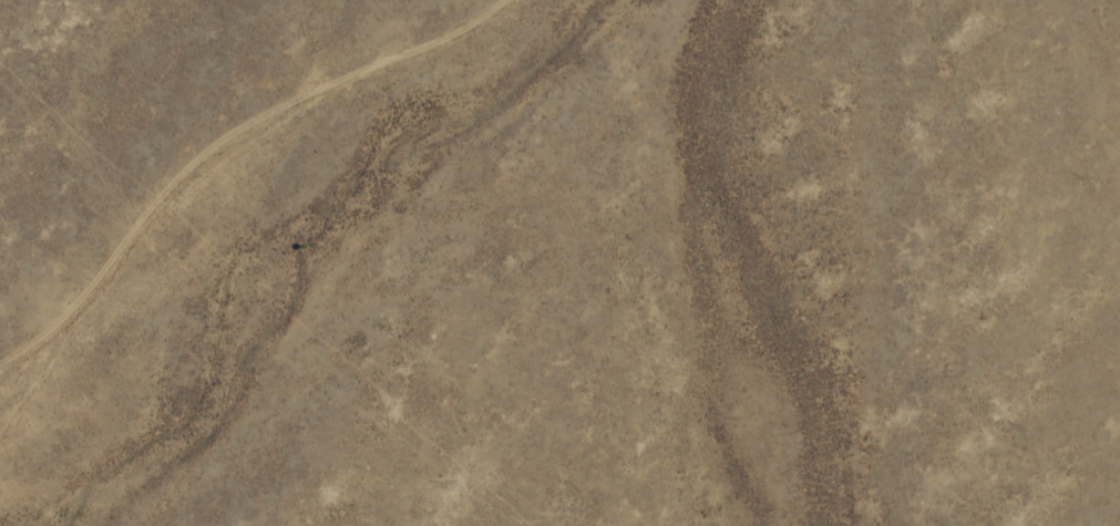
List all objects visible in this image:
road: (220, 189)

